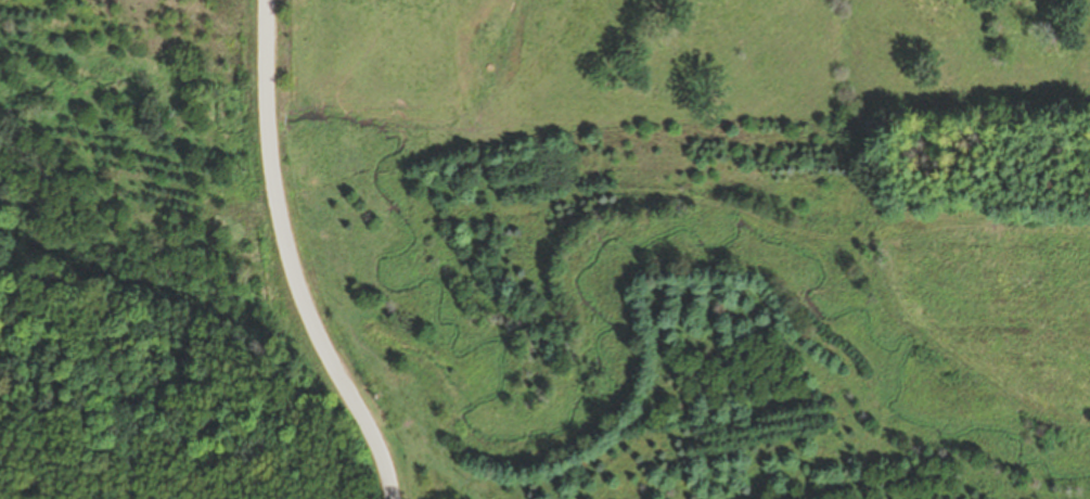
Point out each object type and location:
road: (290, 258)

